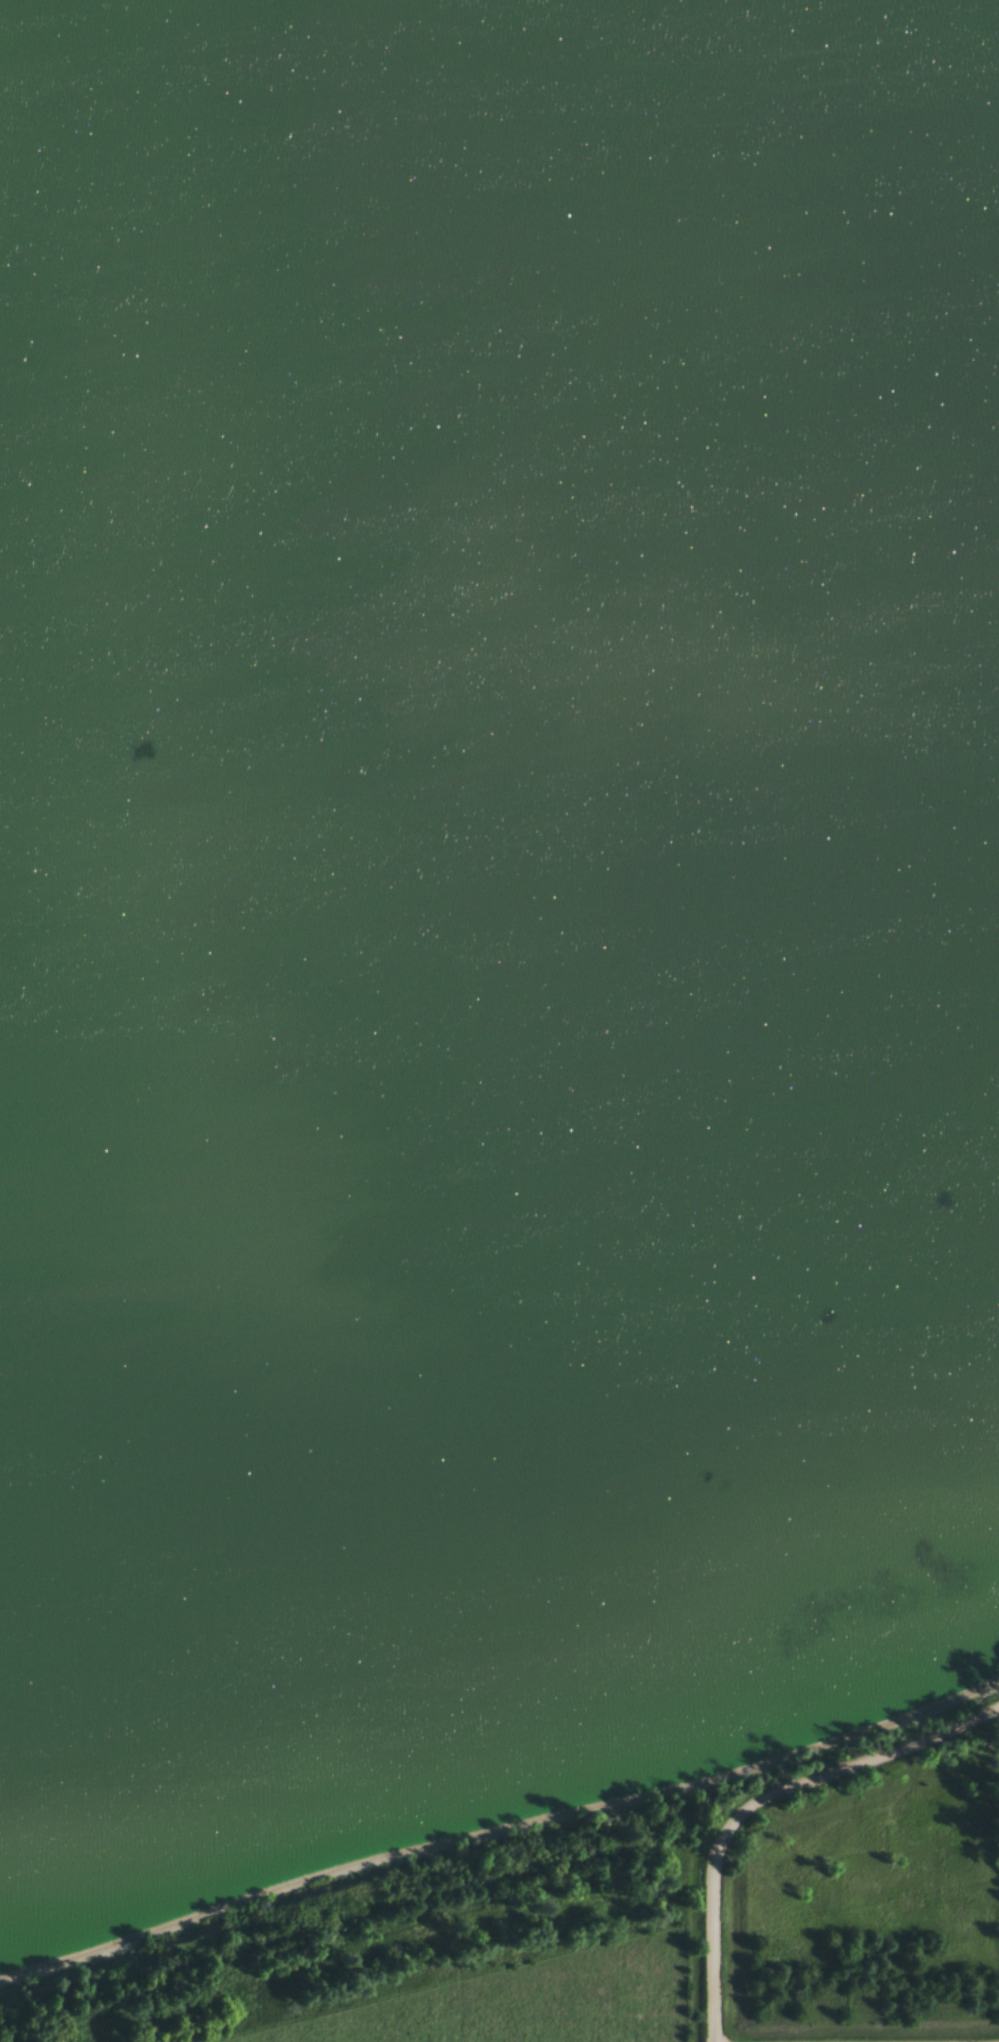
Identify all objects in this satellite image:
road: (767, 1806)

